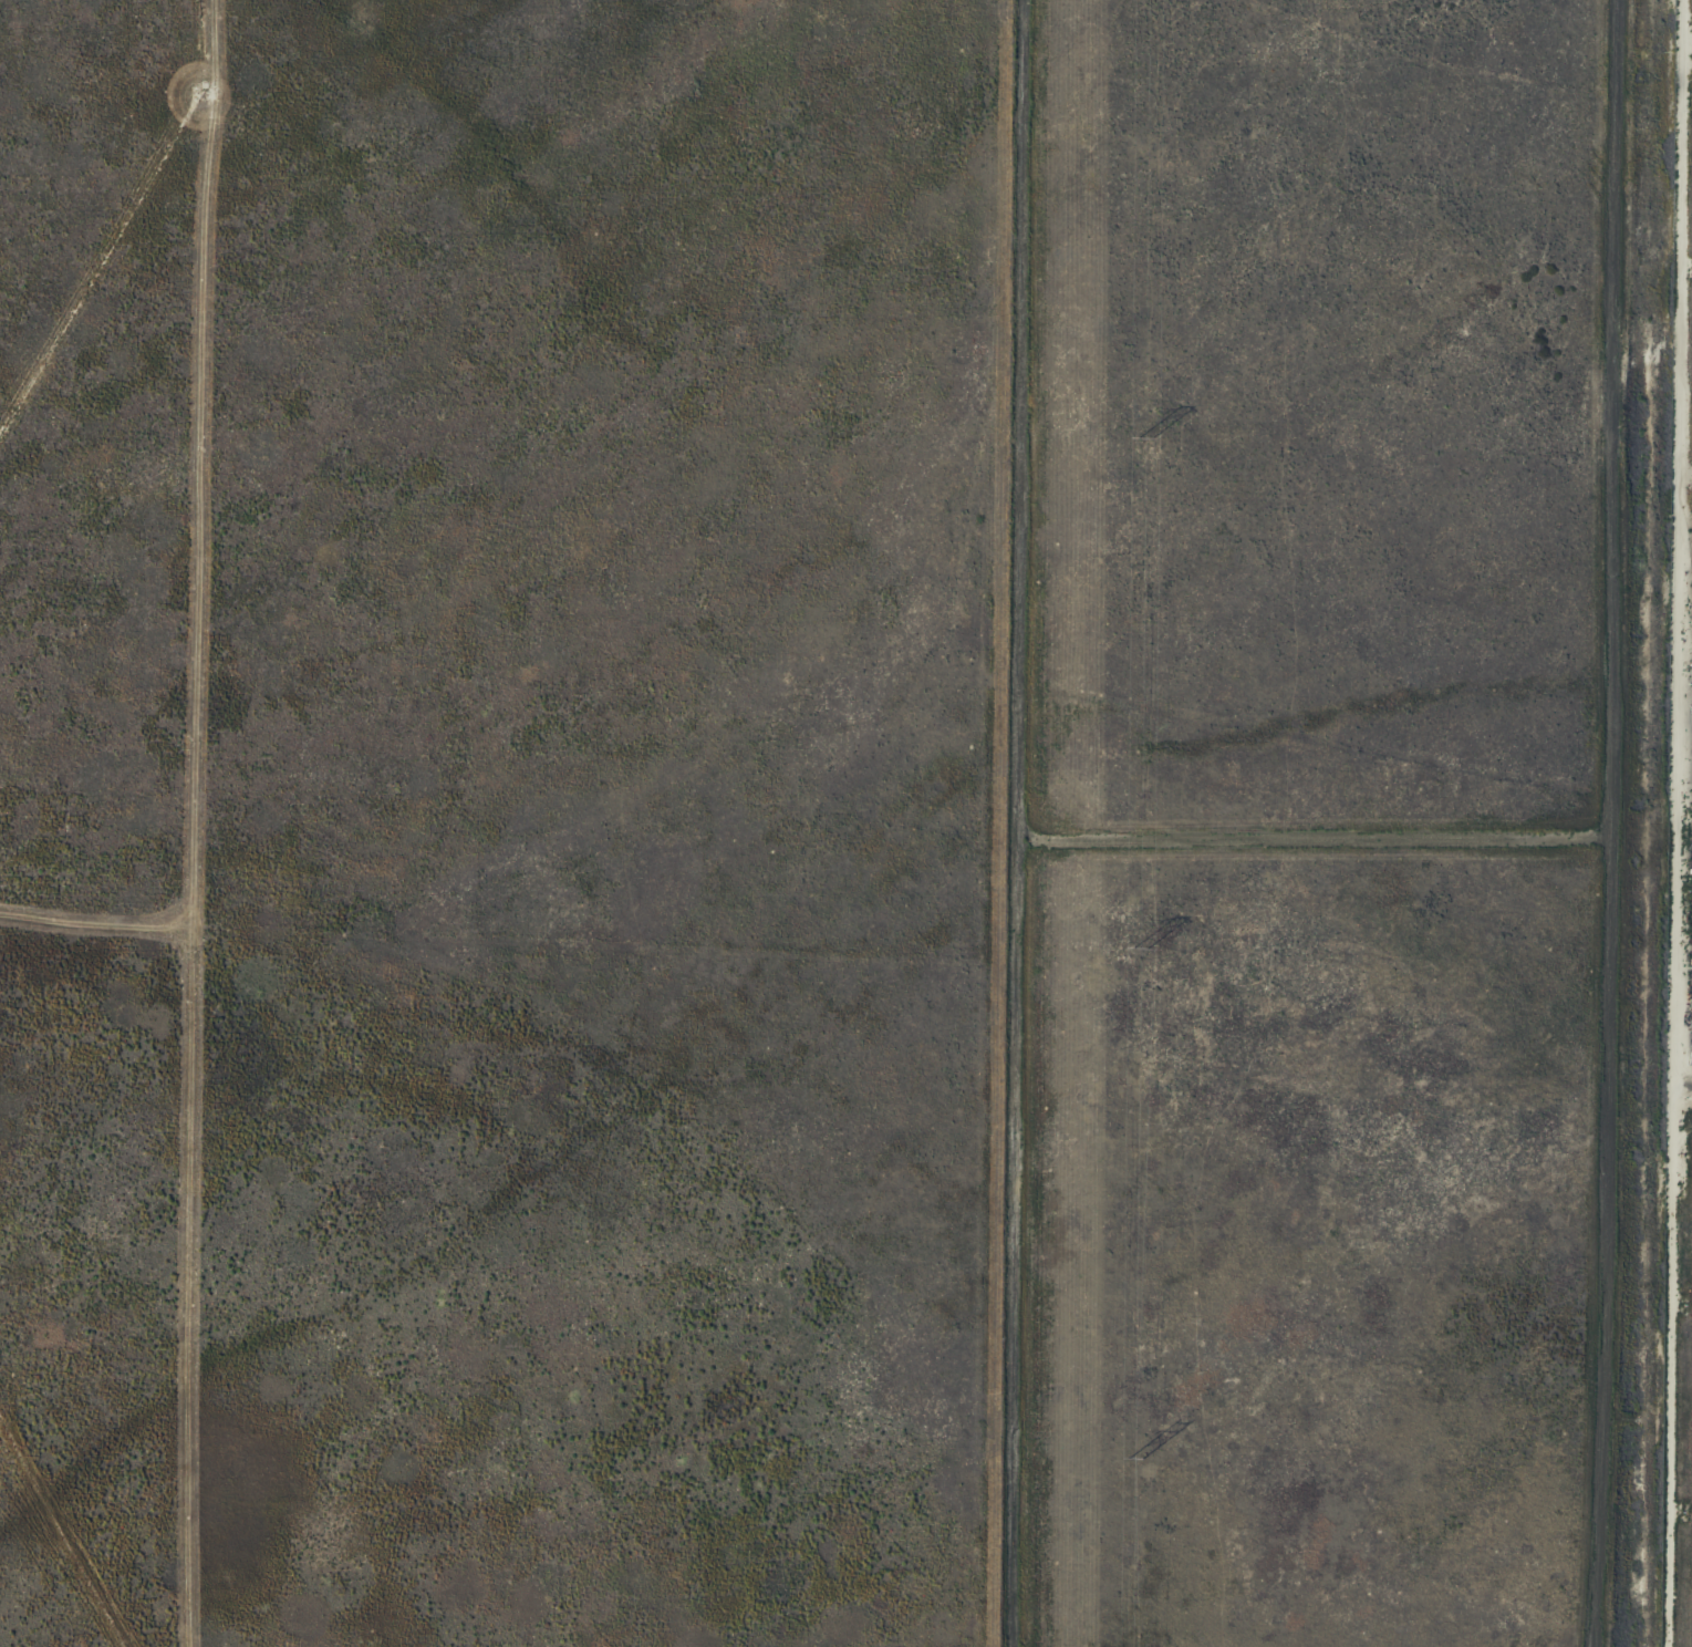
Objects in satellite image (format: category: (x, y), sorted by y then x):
power tower: (1141, 435)
road: (1673, 823)
power plant: (1678, 893)
power tower: (1138, 947)
power tower: (1133, 1459)

